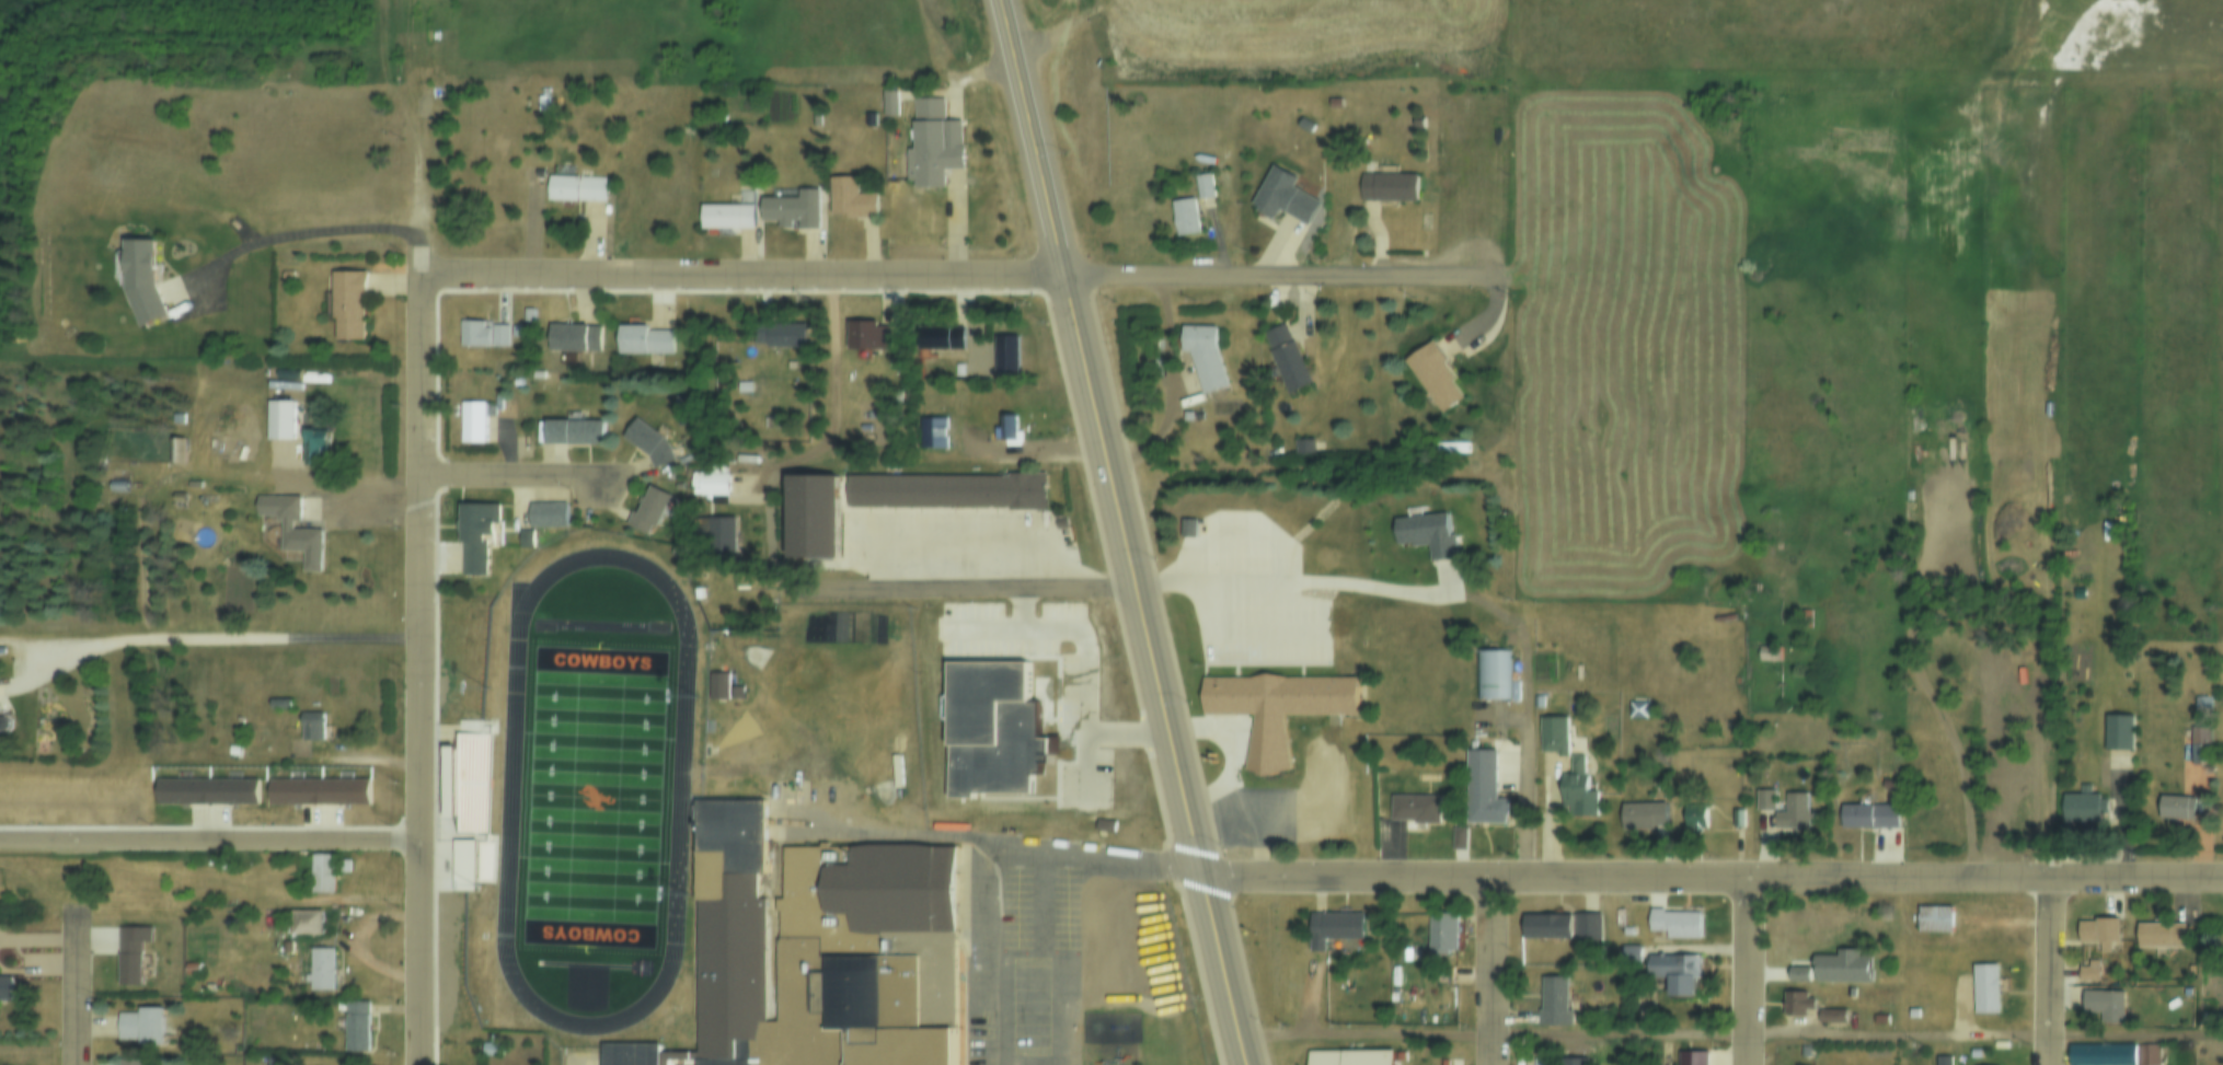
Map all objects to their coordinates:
road: (1009, 34)
road: (1071, 34)
building: (1334, 104)
building: (541, 105)
road: (1026, 107)
building: (868, 117)
building: (1416, 124)
building: (1304, 126)
building: (933, 141)
building: (1201, 187)
building: (572, 189)
building: (1385, 189)
building: (746, 192)
building: (850, 197)
building: (1281, 199)
building: (792, 206)
building: (727, 215)
building: (1183, 217)
road: (744, 276)
road: (1281, 277)
building: (140, 283)
building: (346, 305)
building: (527, 314)
building: (780, 332)
building: (472, 333)
building: (867, 334)
building: (572, 335)
building: (938, 335)
building: (642, 337)
building: (496, 338)
building: (1202, 356)
building: (1286, 359)
building: (1432, 378)
building: (744, 383)
building: (278, 421)
building: (471, 421)
building: (1004, 427)
building: (931, 429)
building: (572, 431)
building: (647, 441)
building: (1301, 445)
building: (313, 449)
building: (174, 453)
road: (509, 475)
building: (707, 479)
building: (193, 484)
building: (944, 490)
building: (177, 496)
road: (346, 501)
building: (647, 509)
building: (546, 512)
building: (810, 516)
building: (290, 528)
building: (1185, 529)
building: (719, 531)
building: (474, 534)
building: (523, 536)
building: (1424, 536)
road: (965, 582)
road: (1293, 582)
building: (2078, 590)
road: (1145, 605)
building: (1802, 621)
track: (598, 622)
road: (216, 640)
building: (1762, 656)
road: (423, 670)
building: (1490, 675)
building: (717, 683)
street lamp: (486, 684)
road: (1098, 684)
street lamp: (695, 691)
building: (736, 691)
building: (2200, 701)
building: (278, 704)
road: (1528, 710)
building: (1636, 711)
building: (1272, 714)
building: (2, 726)
building: (310, 726)
park: (736, 726)
building: (992, 728)
building: (2117, 730)
building: (1551, 736)
building: (2199, 744)
building: (189, 775)
track: (507, 786)
building: (467, 789)
building: (316, 790)
building: (204, 791)
park: (591, 791)
building: (1479, 791)
building: (1575, 792)
building: (1762, 804)
building: (2082, 804)
building: (2175, 807)
building: (299, 810)
building: (1414, 810)
building: (1790, 817)
building: (1640, 818)
building: (1693, 818)
building: (1867, 819)
building: (1735, 821)
building: (1103, 824)
road: (210, 833)
building: (343, 867)
road: (1012, 872)
road: (1712, 875)
building: (321, 876)
street lamp: (476, 879)
street lamp: (687, 890)
building: (1932, 919)
building: (304, 924)
building: (1673, 924)
building: (1560, 927)
building: (1335, 931)
building: (1439, 934)
building: (2095, 935)
building: (2157, 938)
parking lot: (1020, 947)
building: (815, 951)
building: (1631, 952)
building: (130, 954)
building: (188, 966)
building: (2089, 966)
building: (319, 970)
road: (1495, 970)
road: (1749, 970)
road: (2050, 970)
building: (1840, 971)
building: (1673, 974)
road: (76, 986)
building: (208, 987)
building: (4, 988)
building: (1982, 991)
building: (1553, 1003)
building: (1795, 1004)
building: (1915, 1008)
building: (2101, 1011)
building: (1829, 1016)
building: (1879, 1018)
building: (139, 1028)
building: (355, 1028)
road: (1729, 1030)
building: (486, 1047)
building: (1805, 1050)
building: (2100, 1056)
building: (2144, 1056)
building: (1692, 1057)
building: (1449, 1061)
building: (1565, 1061)
building: (1940, 1061)
building: (127, 1062)

